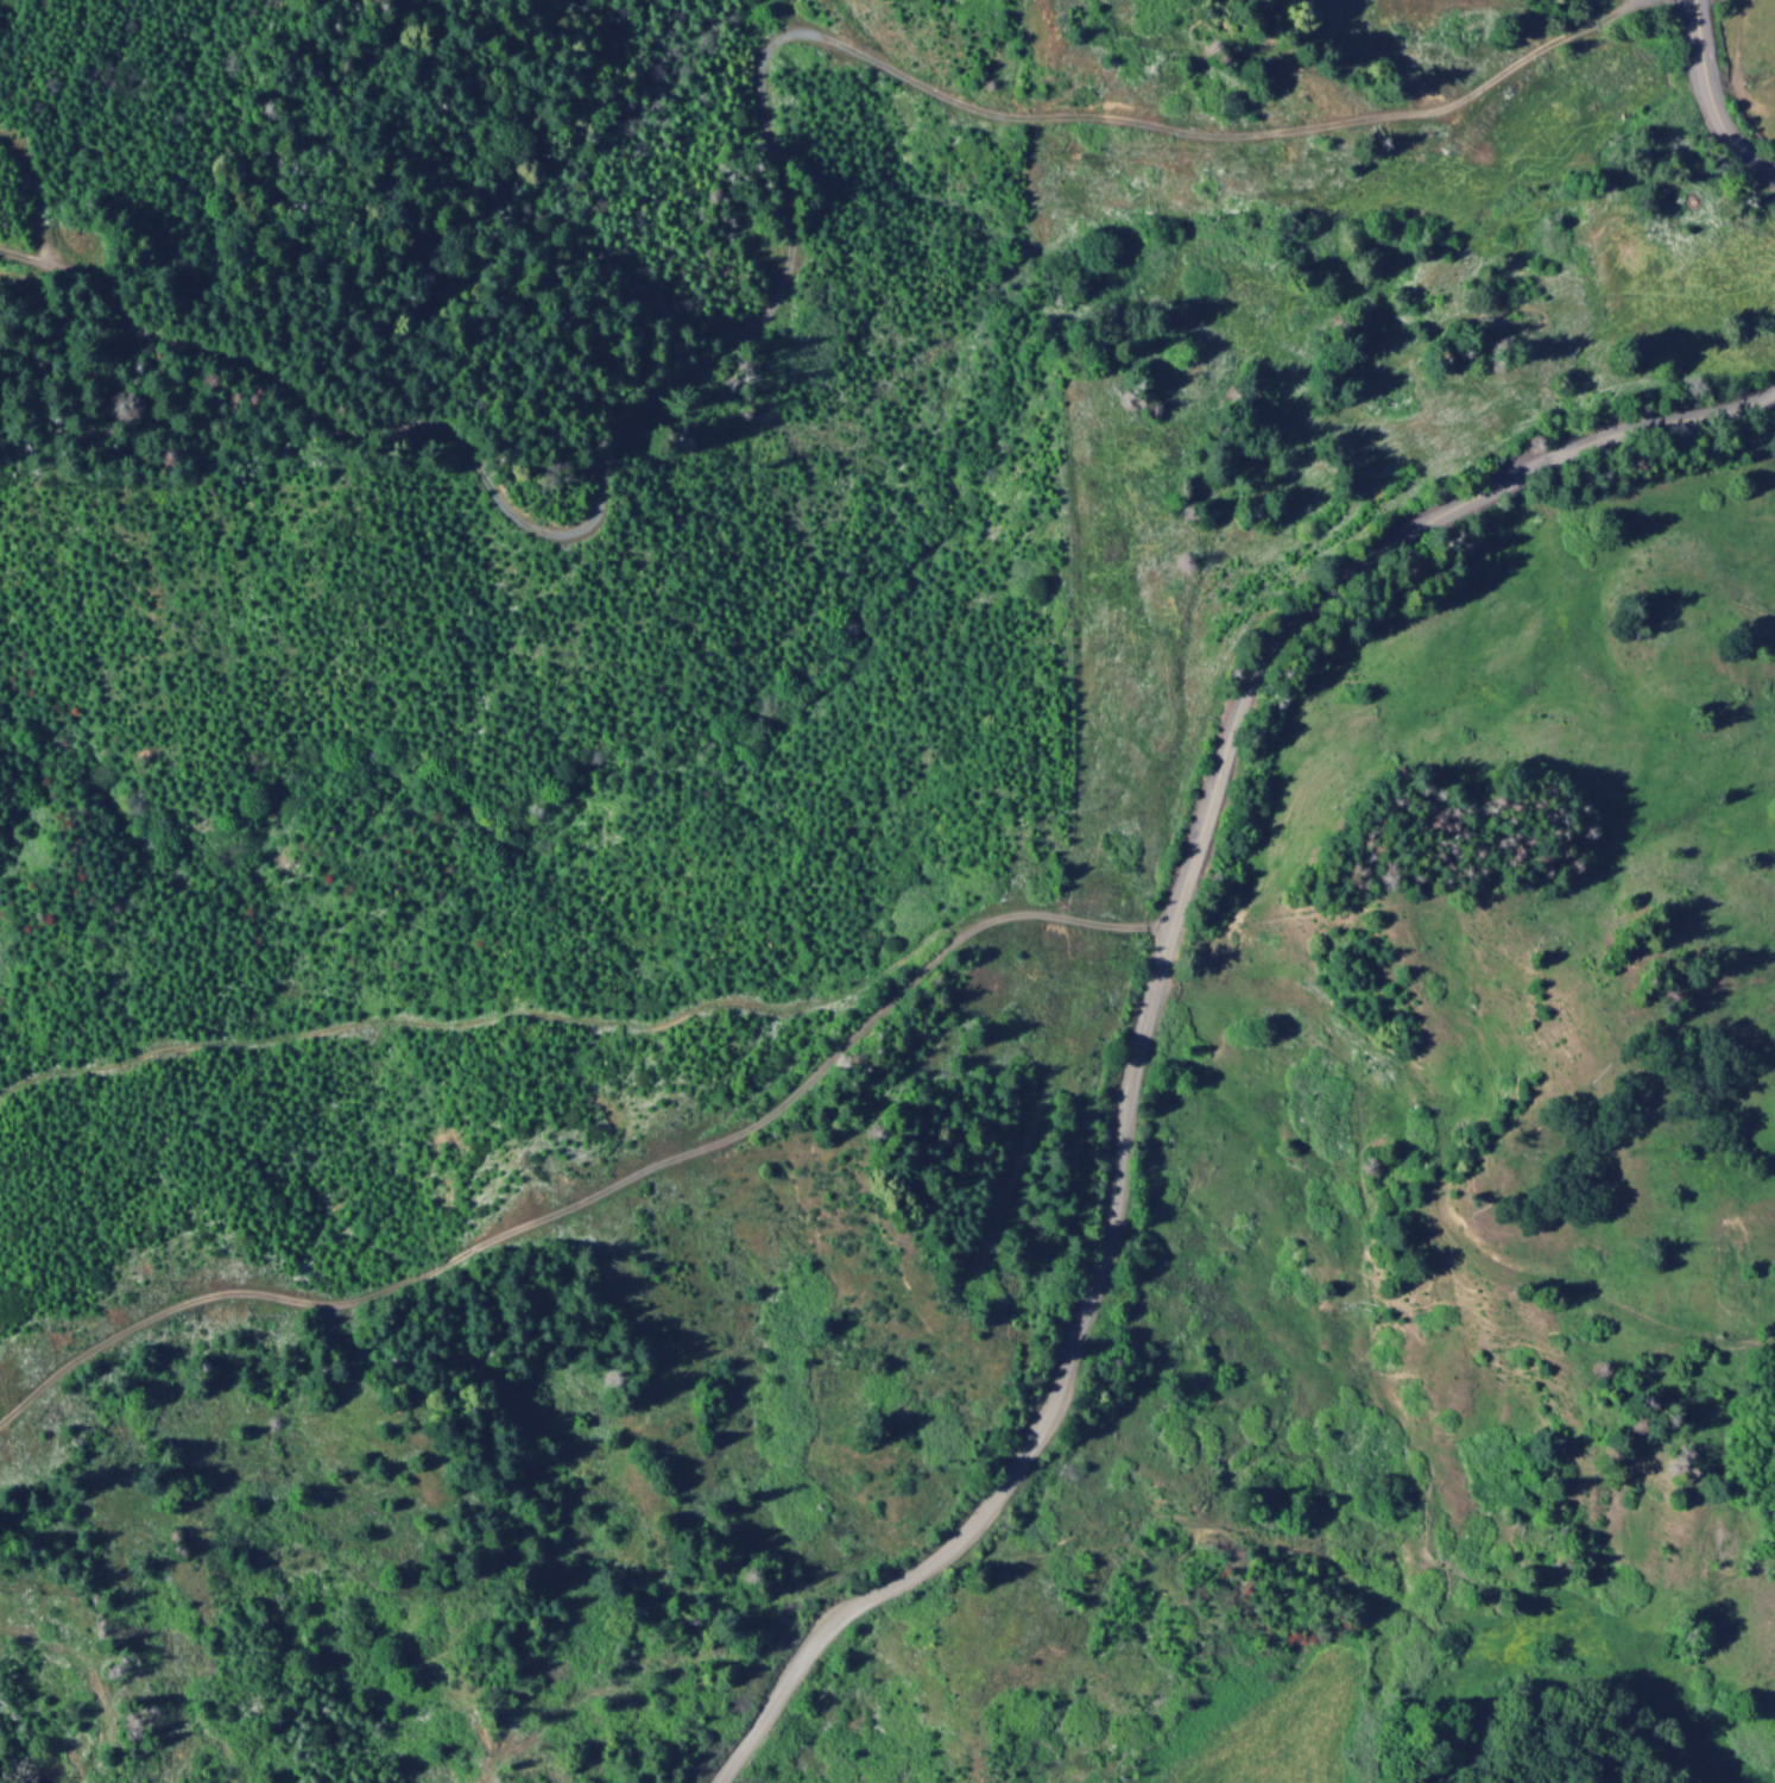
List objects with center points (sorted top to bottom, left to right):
road: (1706, 102)
road: (781, 193)
road: (1150, 990)
road: (601, 1191)

